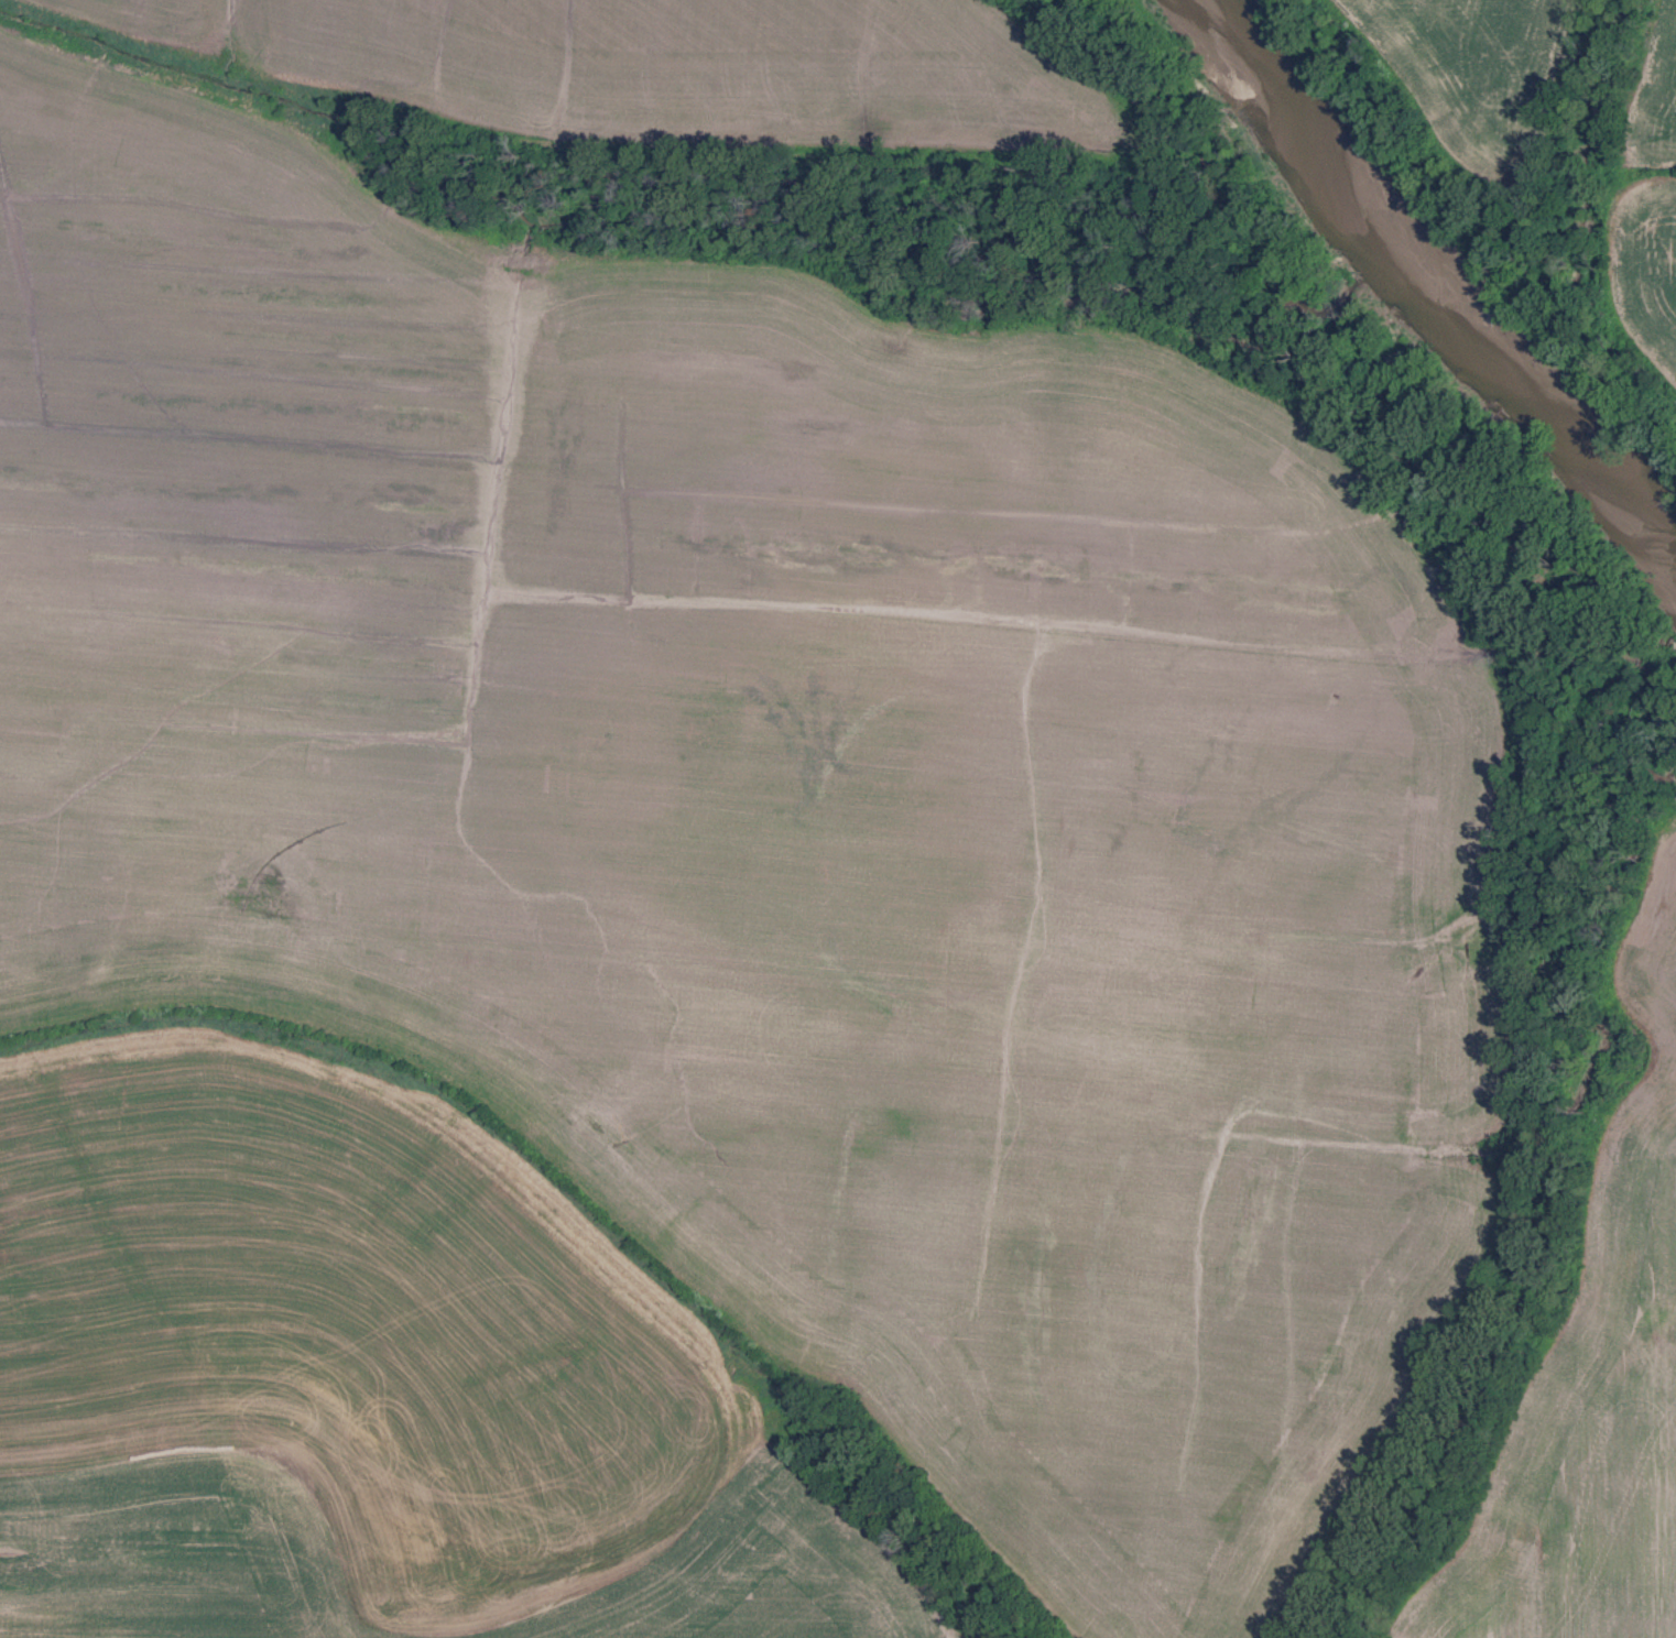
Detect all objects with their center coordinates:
river: (1427, 290)

